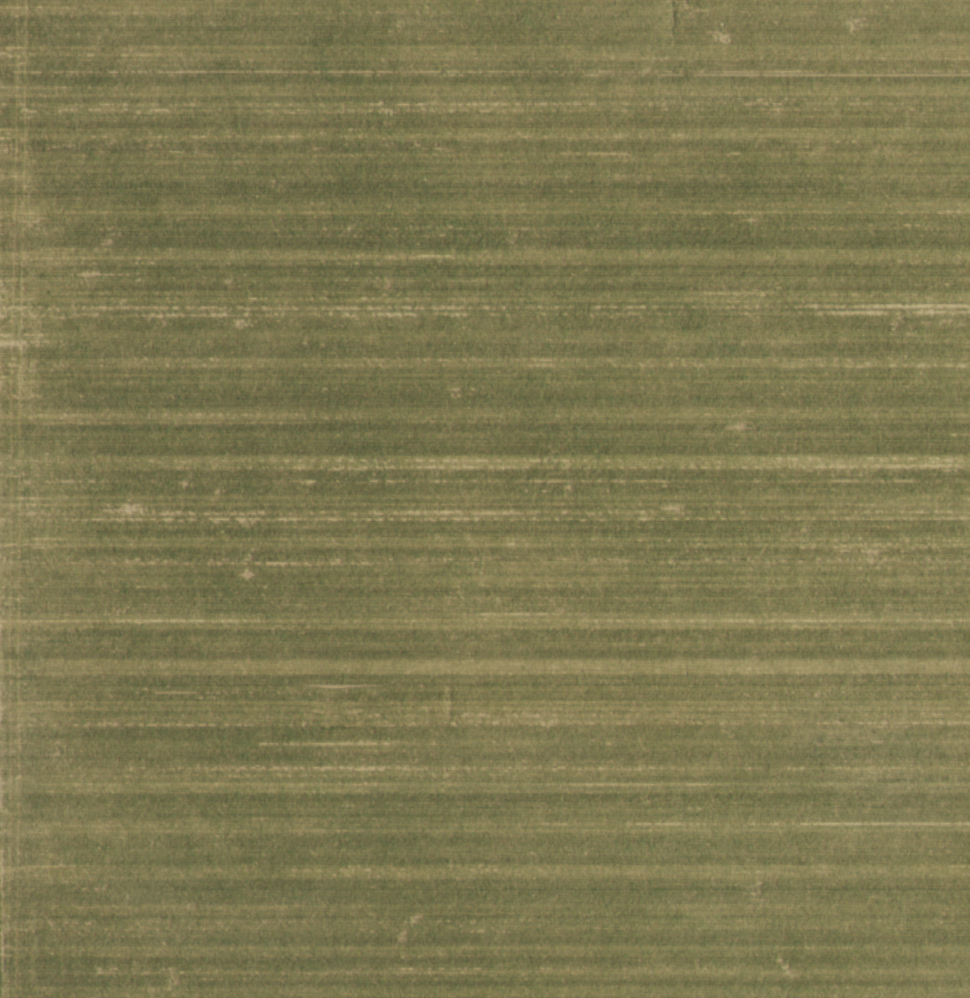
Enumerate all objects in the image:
crop: (485, 499)

